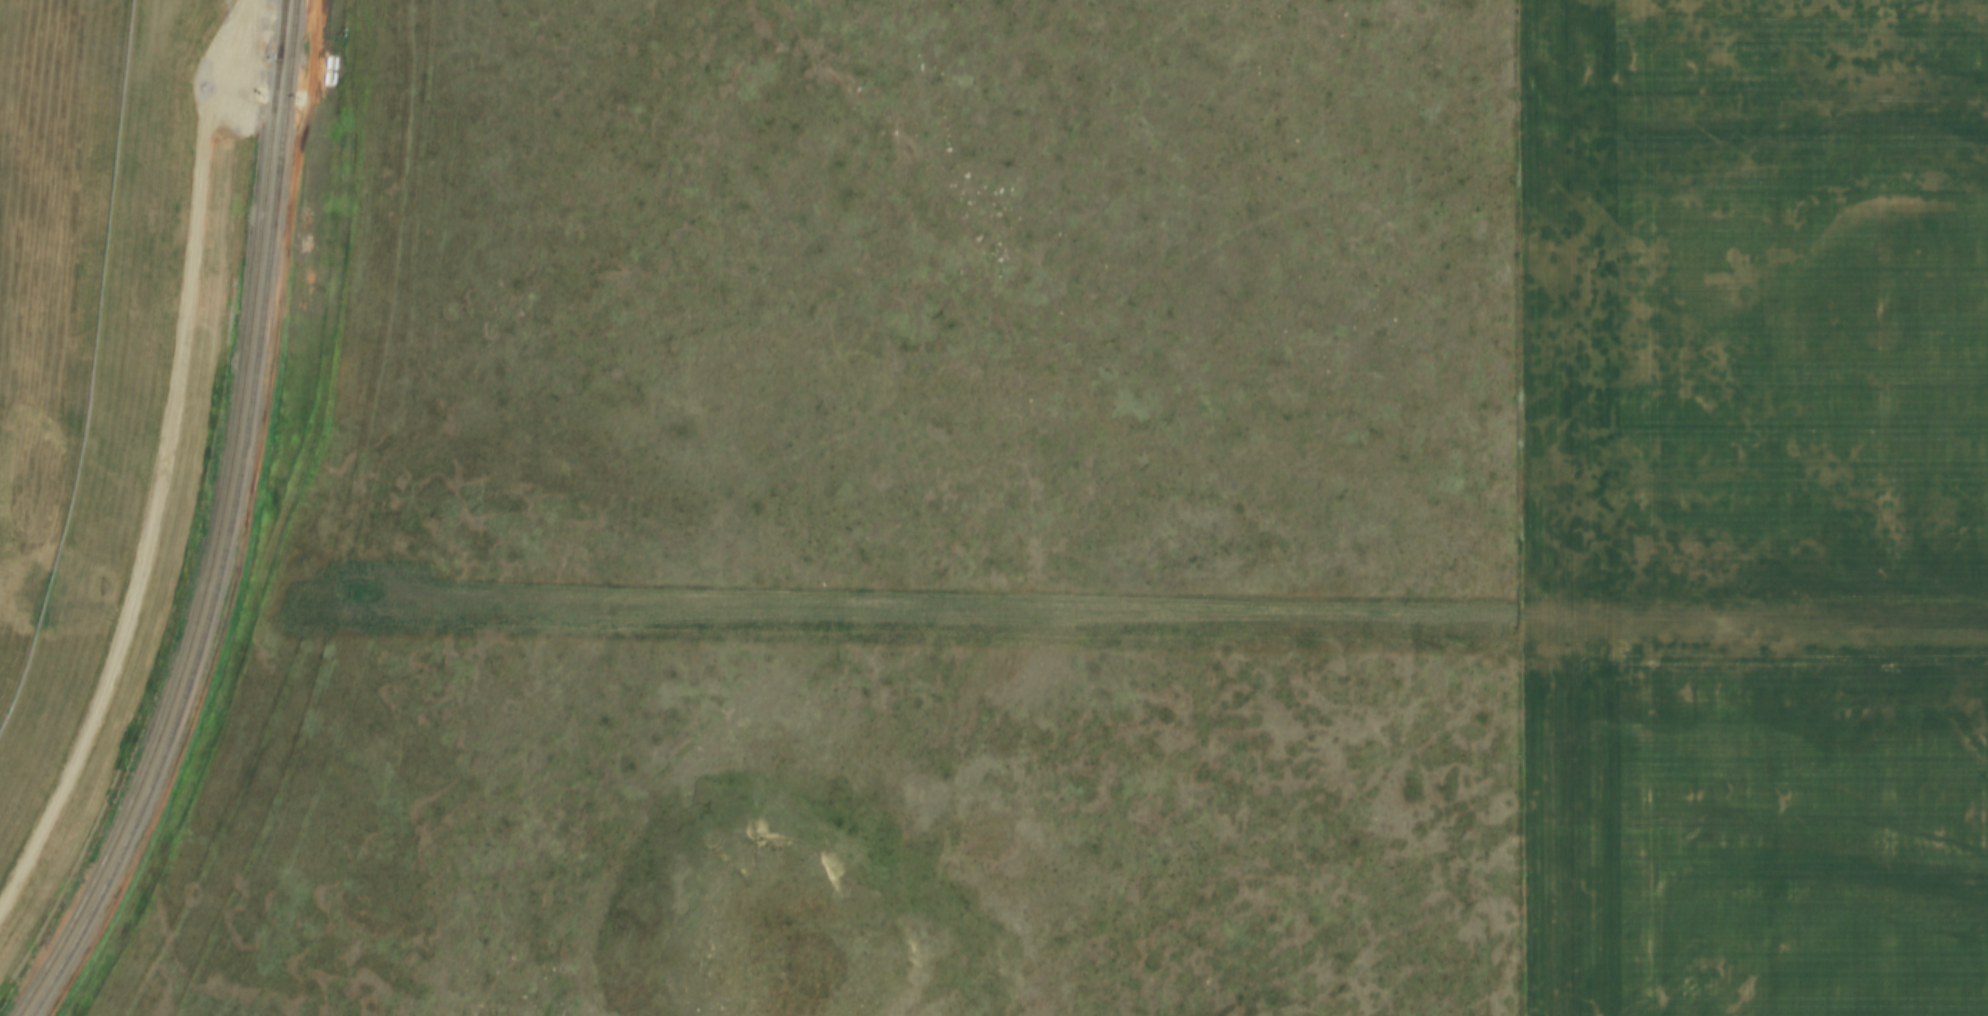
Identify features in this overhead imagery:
railway: (228, 527)
road: (247, 527)

